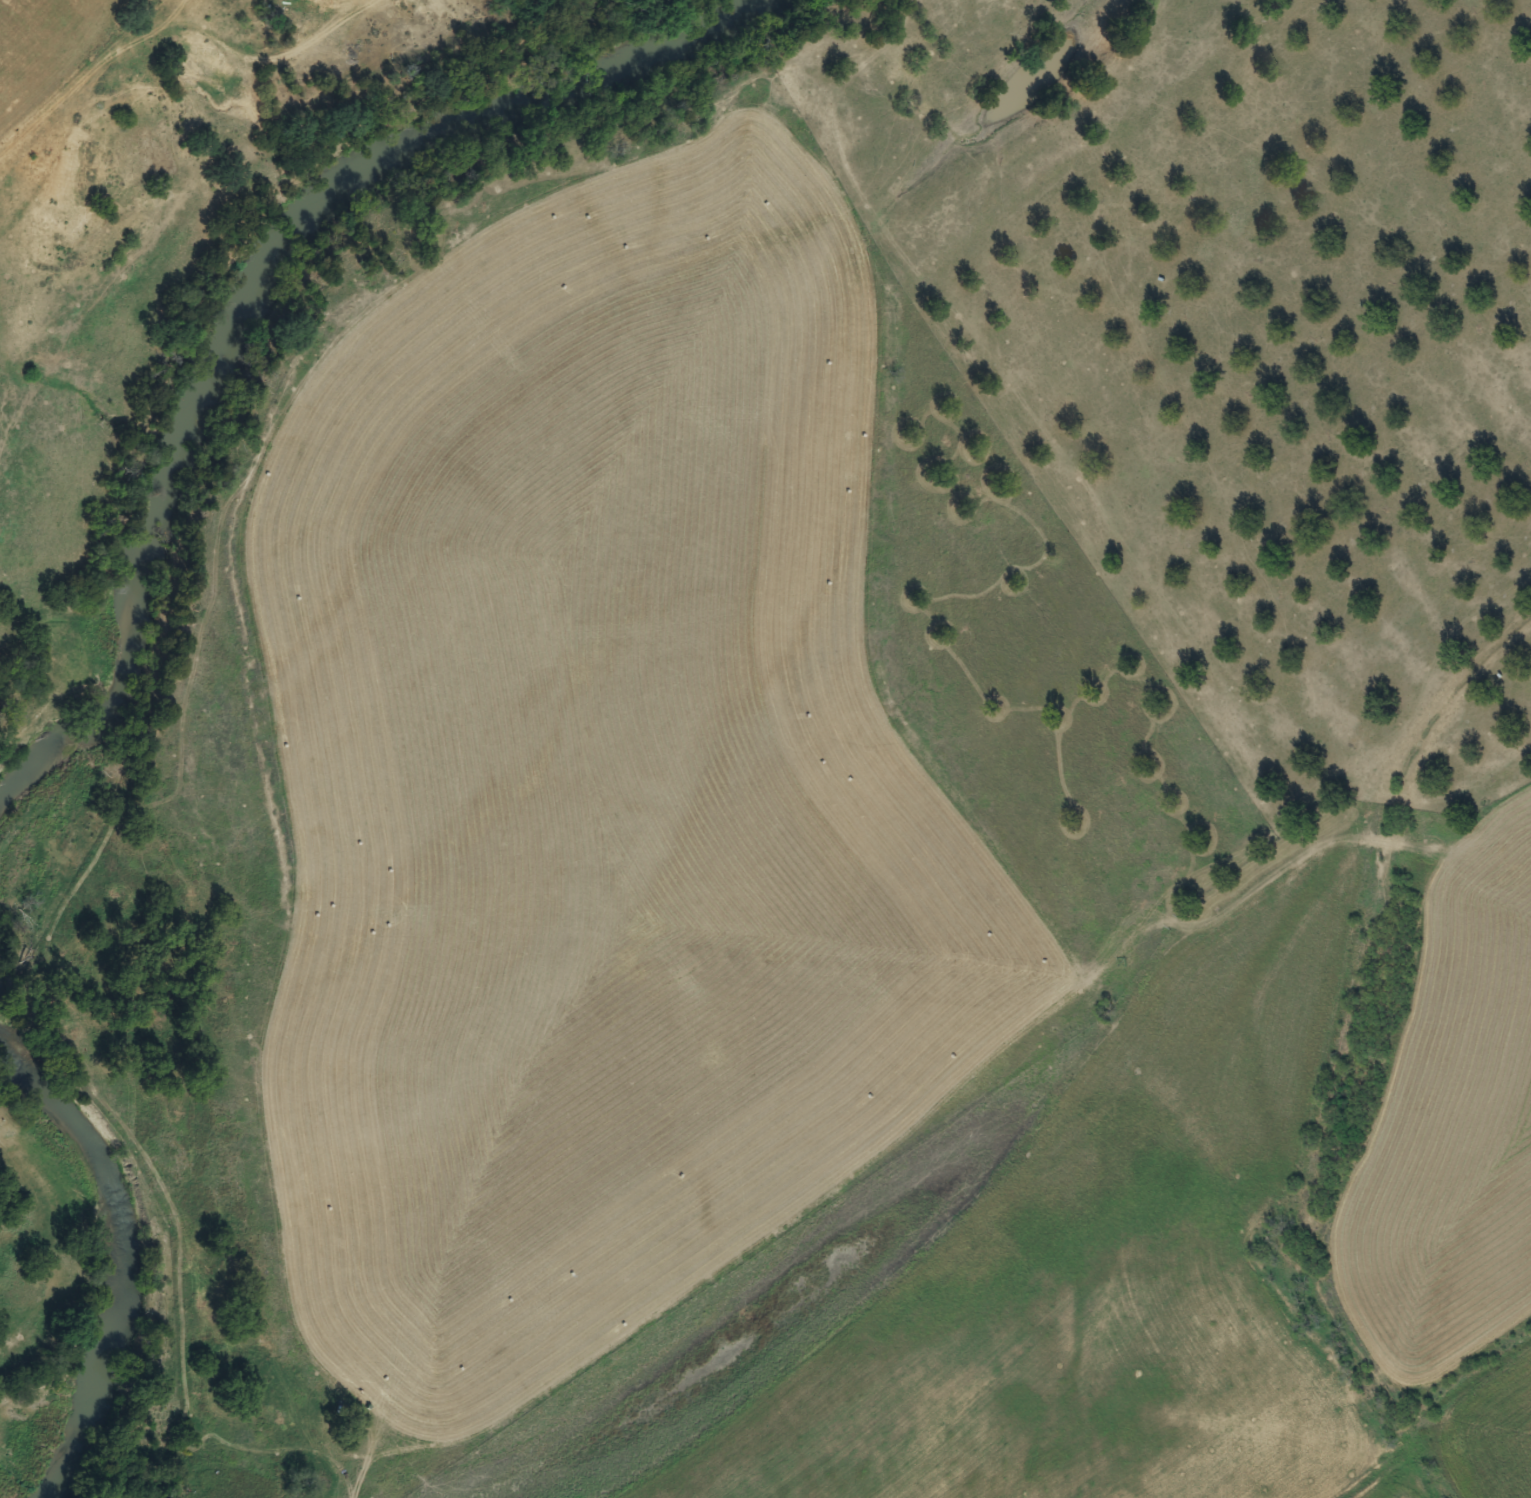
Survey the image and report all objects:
river: (278, 311)
river: (107, 1252)

